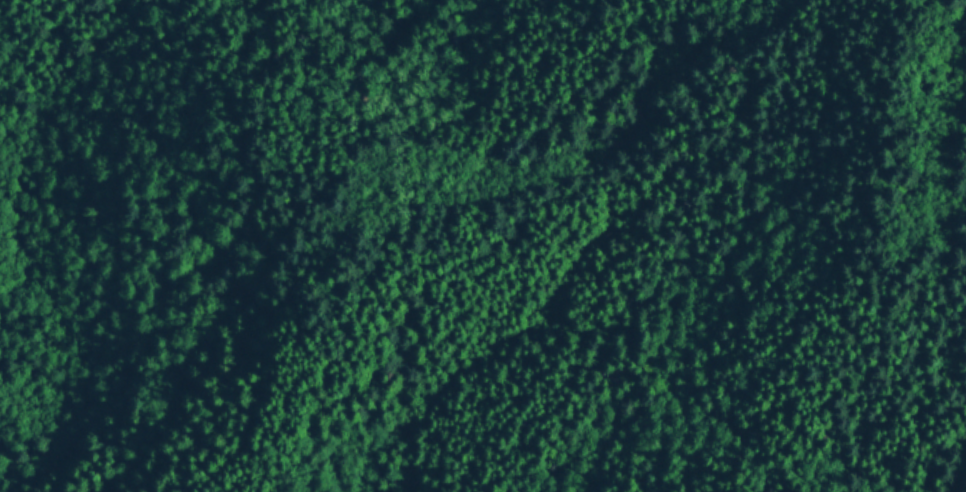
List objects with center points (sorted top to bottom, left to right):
road: (944, 228)

